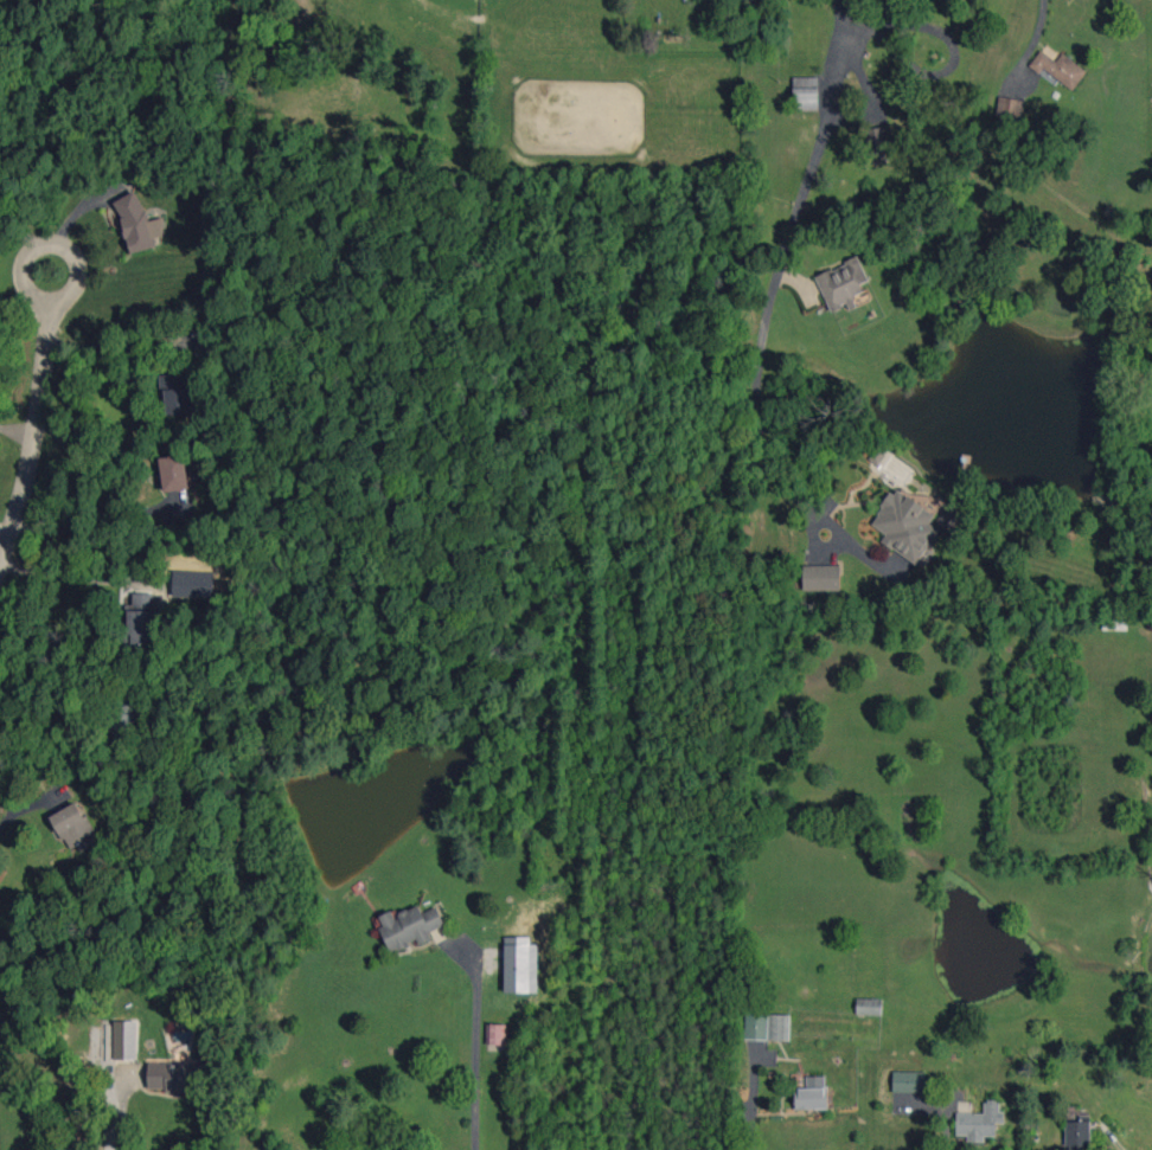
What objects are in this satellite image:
road: (1037, 32)
building: (1058, 69)
building: (806, 92)
building: (1010, 107)
building: (877, 140)
building: (137, 224)
road: (19, 236)
road: (70, 253)
road: (781, 265)
building: (843, 283)
road: (14, 298)
road: (119, 351)
building: (175, 393)
road: (18, 431)
road: (33, 444)
building: (174, 473)
building: (948, 518)
road: (90, 520)
building: (905, 525)
road: (6, 529)
road: (65, 574)
building: (821, 577)
building: (193, 584)
building: (140, 619)
building: (124, 715)
road: (51, 753)
building: (73, 824)
building: (409, 926)
building: (520, 964)
building: (869, 1006)
building: (767, 1027)
building: (495, 1034)
building: (124, 1040)
road: (474, 1042)
building: (177, 1075)
building: (909, 1081)
building: (812, 1093)
road: (750, 1097)
road: (123, 1116)
building: (980, 1123)
building: (1079, 1133)

